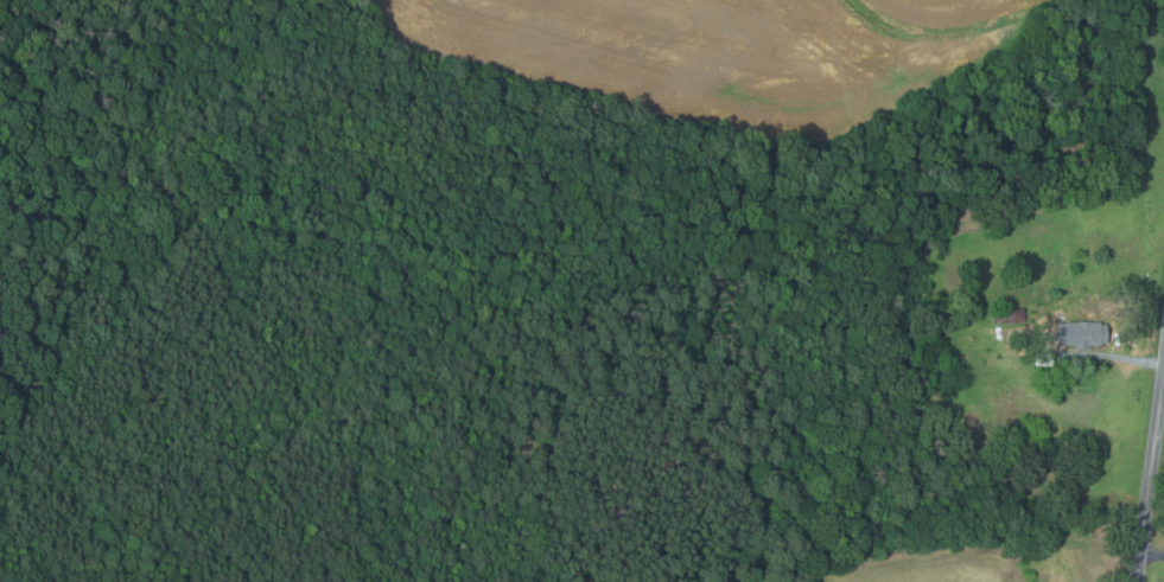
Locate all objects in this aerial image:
crop: (727, 56)
building: (1009, 315)
building: (1086, 333)
building: (1044, 359)
road: (1124, 359)
road: (1151, 474)
road: (1153, 543)
crop: (937, 564)

